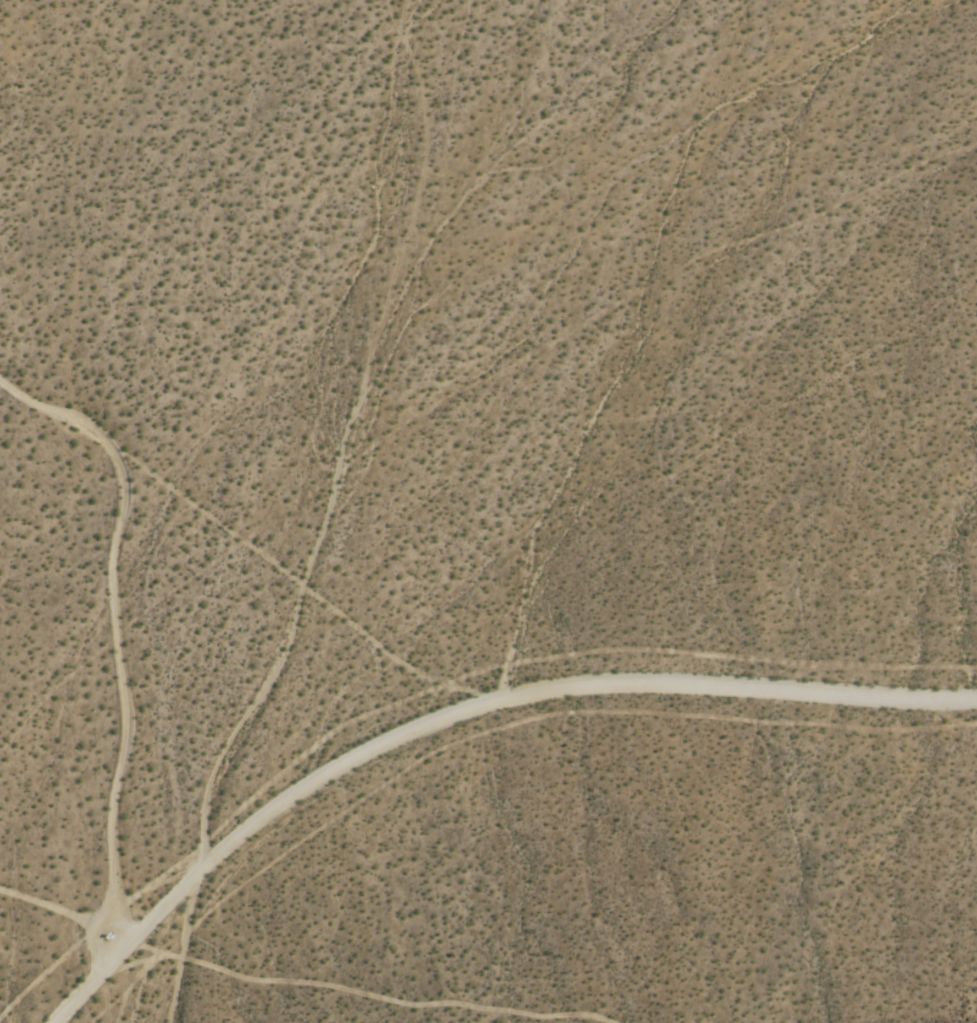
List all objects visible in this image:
road: (457, 708)

